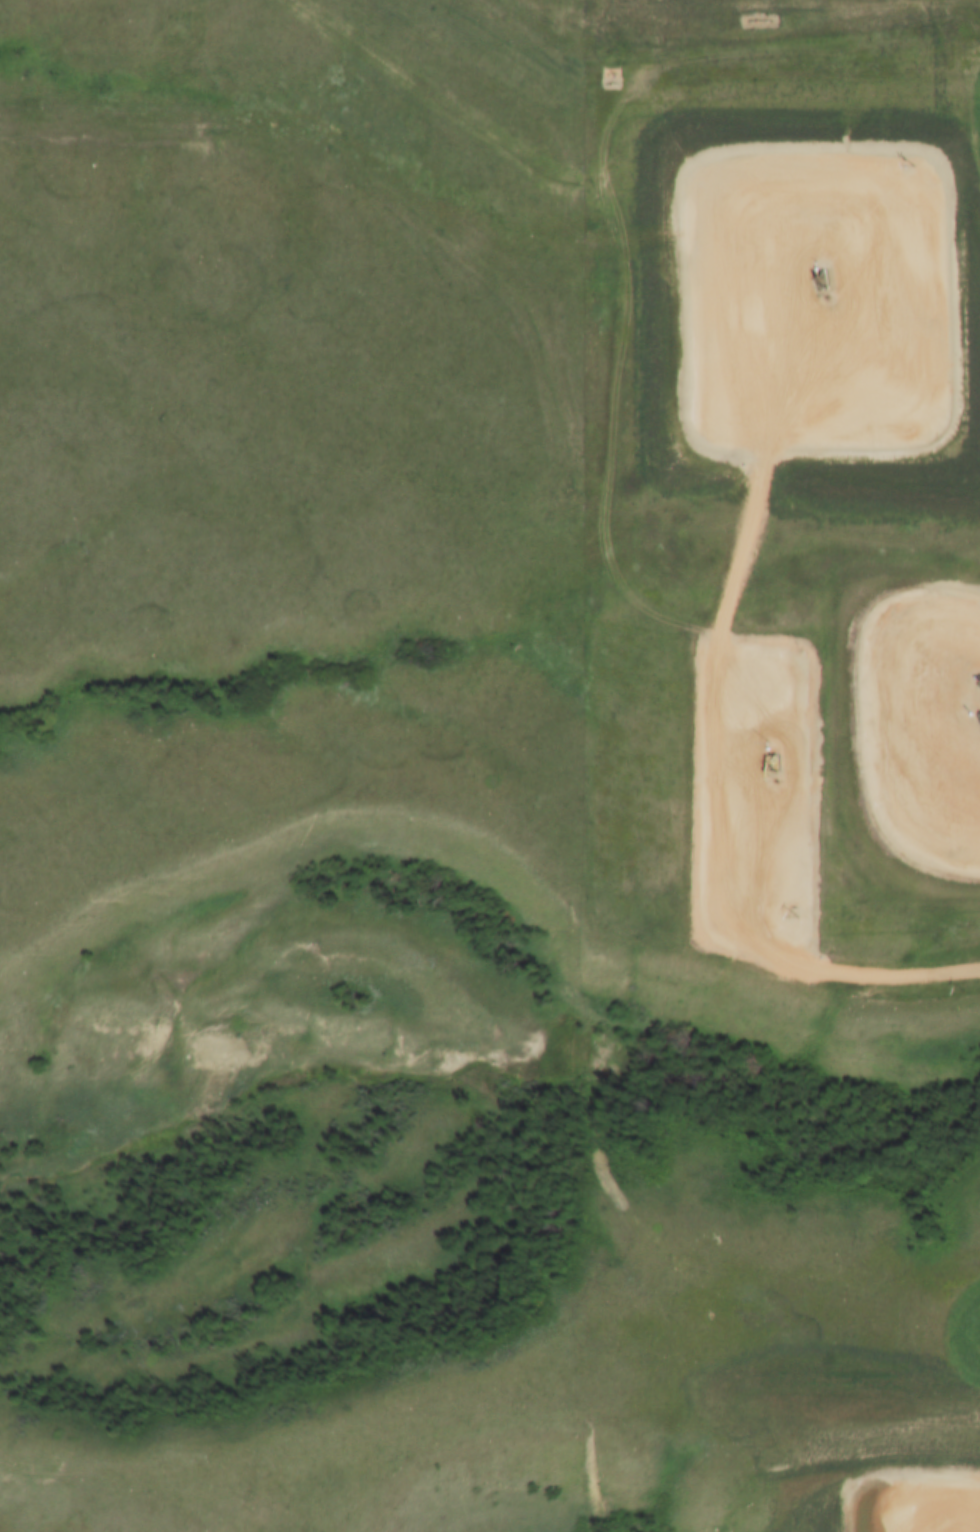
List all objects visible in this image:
road: (738, 769)

